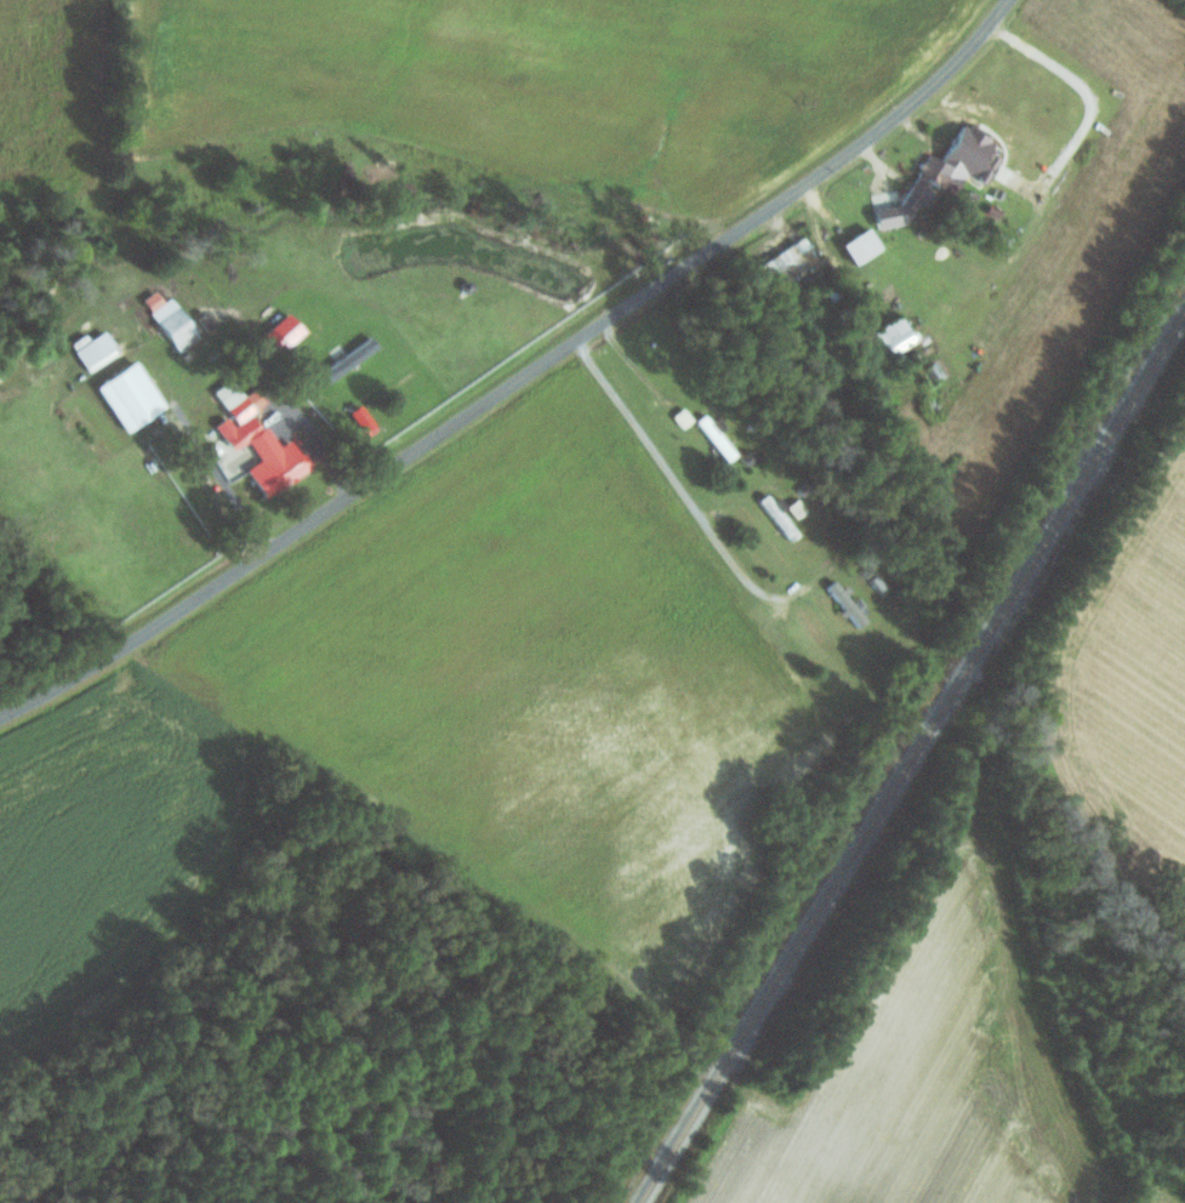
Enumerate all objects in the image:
building: (944, 176)
building: (864, 246)
building: (790, 263)
building: (172, 320)
building: (284, 333)
building: (896, 336)
building: (96, 350)
building: (352, 358)
building: (934, 372)
road: (520, 380)
building: (132, 397)
building: (365, 420)
building: (260, 440)
building: (798, 506)
building: (780, 515)
building: (850, 603)
railway: (912, 757)

